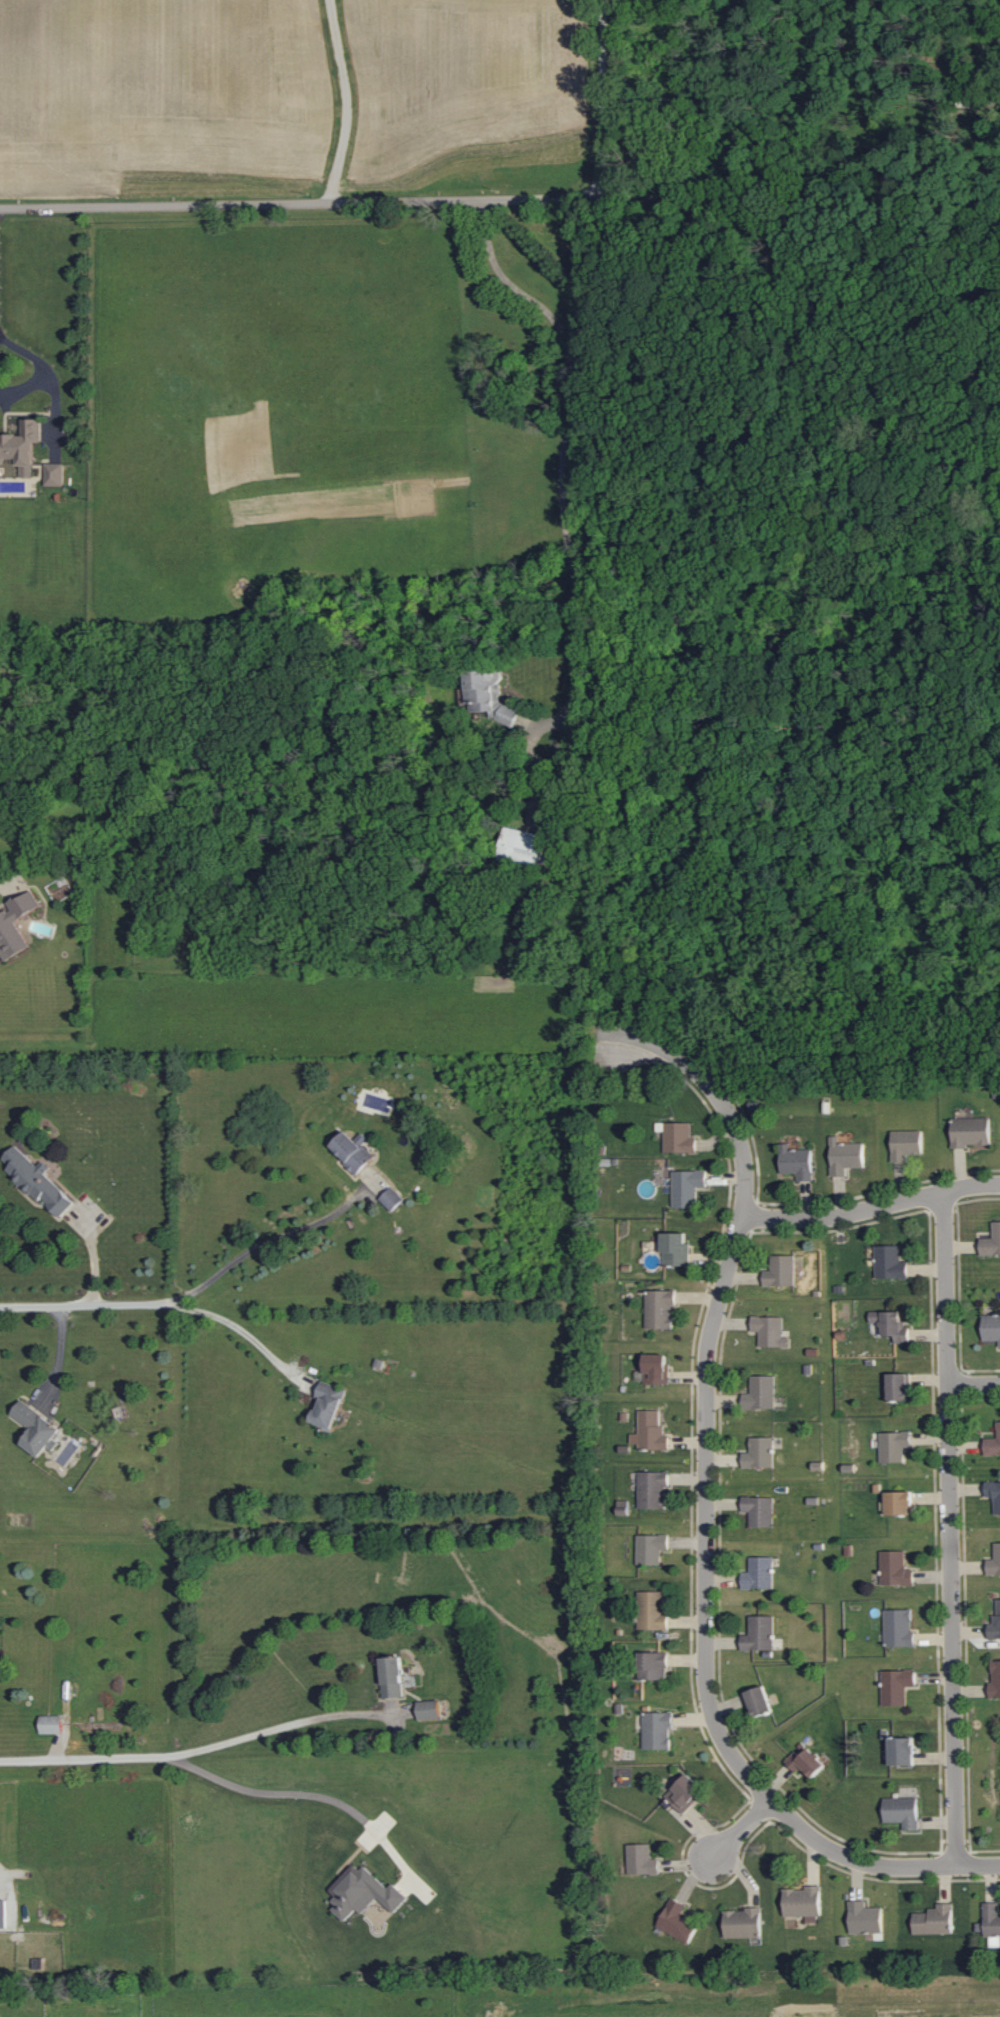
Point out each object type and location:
road: (343, 101)
road: (798, 194)
road: (396, 201)
road: (40, 368)
building: (21, 446)
building: (53, 474)
road: (562, 493)
building: (488, 696)
building: (521, 846)
road: (4, 886)
building: (14, 925)
building: (970, 1132)
building: (679, 1139)
building: (906, 1145)
building: (352, 1152)
building: (845, 1157)
building: (796, 1163)
building: (36, 1182)
building: (686, 1188)
road: (944, 1192)
building: (391, 1199)
road: (816, 1218)
building: (991, 1242)
road: (260, 1243)
building: (675, 1250)
building: (890, 1263)
building: (780, 1272)
road: (159, 1305)
building: (659, 1310)
building: (891, 1326)
building: (991, 1328)
building: (770, 1332)
road: (59, 1357)
building: (656, 1370)
road: (974, 1384)
building: (898, 1387)
building: (760, 1394)
building: (327, 1406)
building: (35, 1429)
building: (651, 1431)
building: (993, 1444)
building: (893, 1446)
building: (759, 1453)
building: (652, 1489)
building: (993, 1493)
building: (899, 1502)
road: (706, 1506)
building: (622, 1507)
building: (759, 1510)
road: (950, 1529)
building: (650, 1548)
building: (994, 1560)
building: (895, 1568)
building: (758, 1573)
building: (652, 1610)
building: (995, 1622)
building: (898, 1628)
building: (759, 1633)
building: (653, 1665)
building: (391, 1676)
building: (995, 1678)
building: (896, 1685)
building: (759, 1700)
building: (428, 1709)
building: (50, 1724)
road: (277, 1725)
building: (656, 1730)
building: (901, 1751)
building: (805, 1761)
road: (210, 1774)
building: (684, 1793)
building: (902, 1811)
road: (742, 1829)
building: (641, 1860)
building: (362, 1893)
building: (803, 1903)
building: (2, 1914)
building: (865, 1918)
building: (676, 1920)
building: (934, 1920)
building: (742, 1923)
building: (992, 1923)

